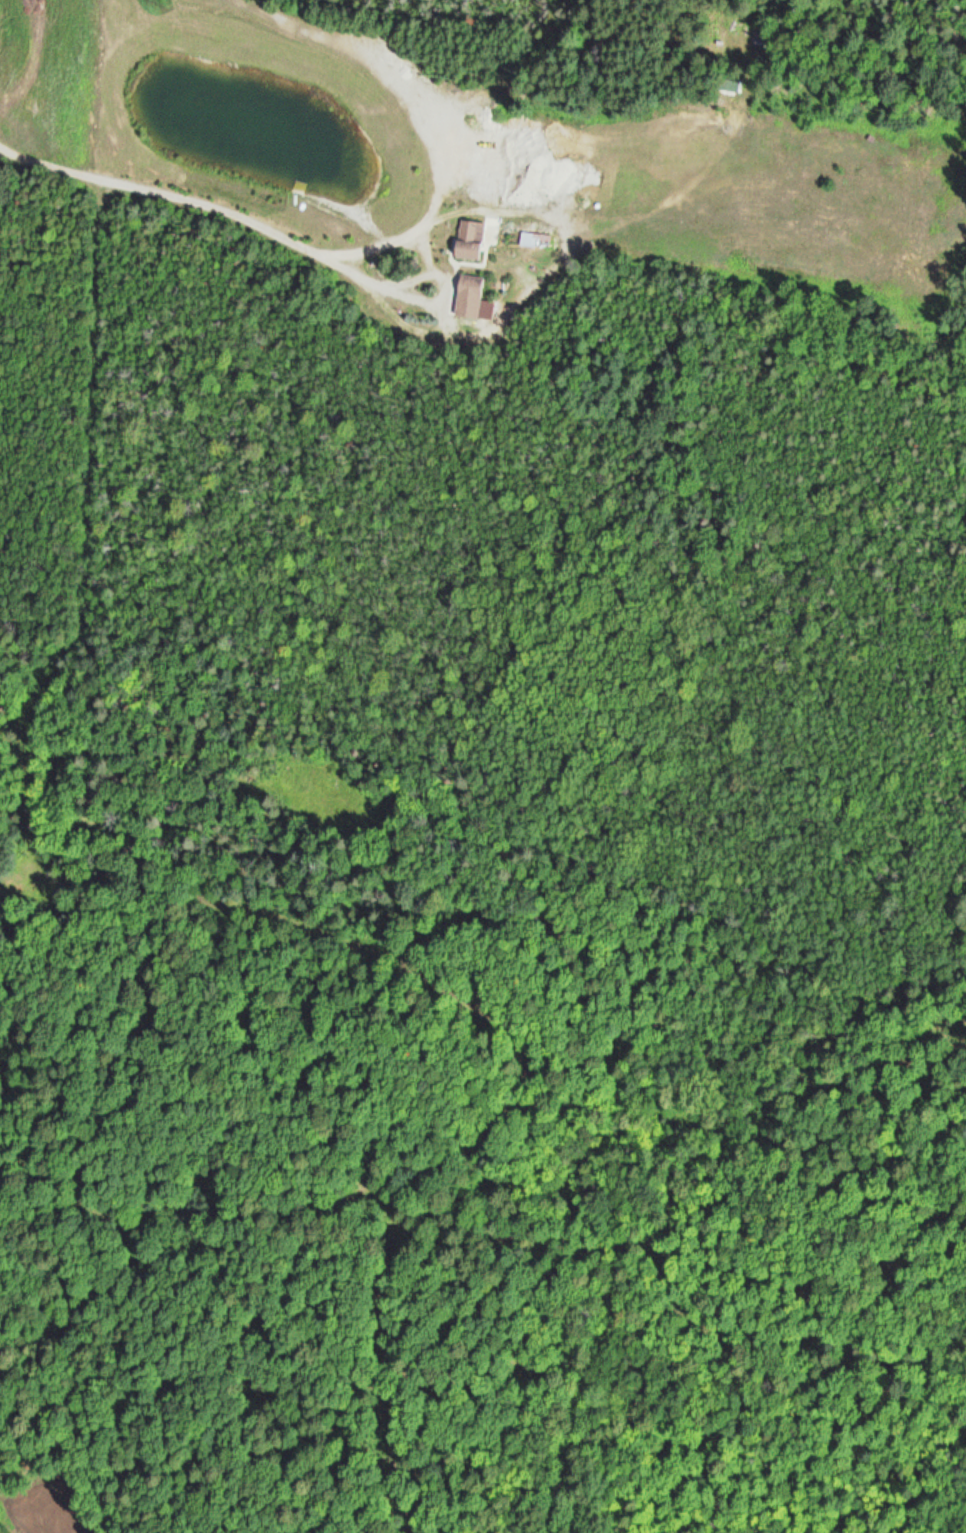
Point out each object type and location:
quarry: (484, 143)
road: (197, 202)
road: (444, 290)

